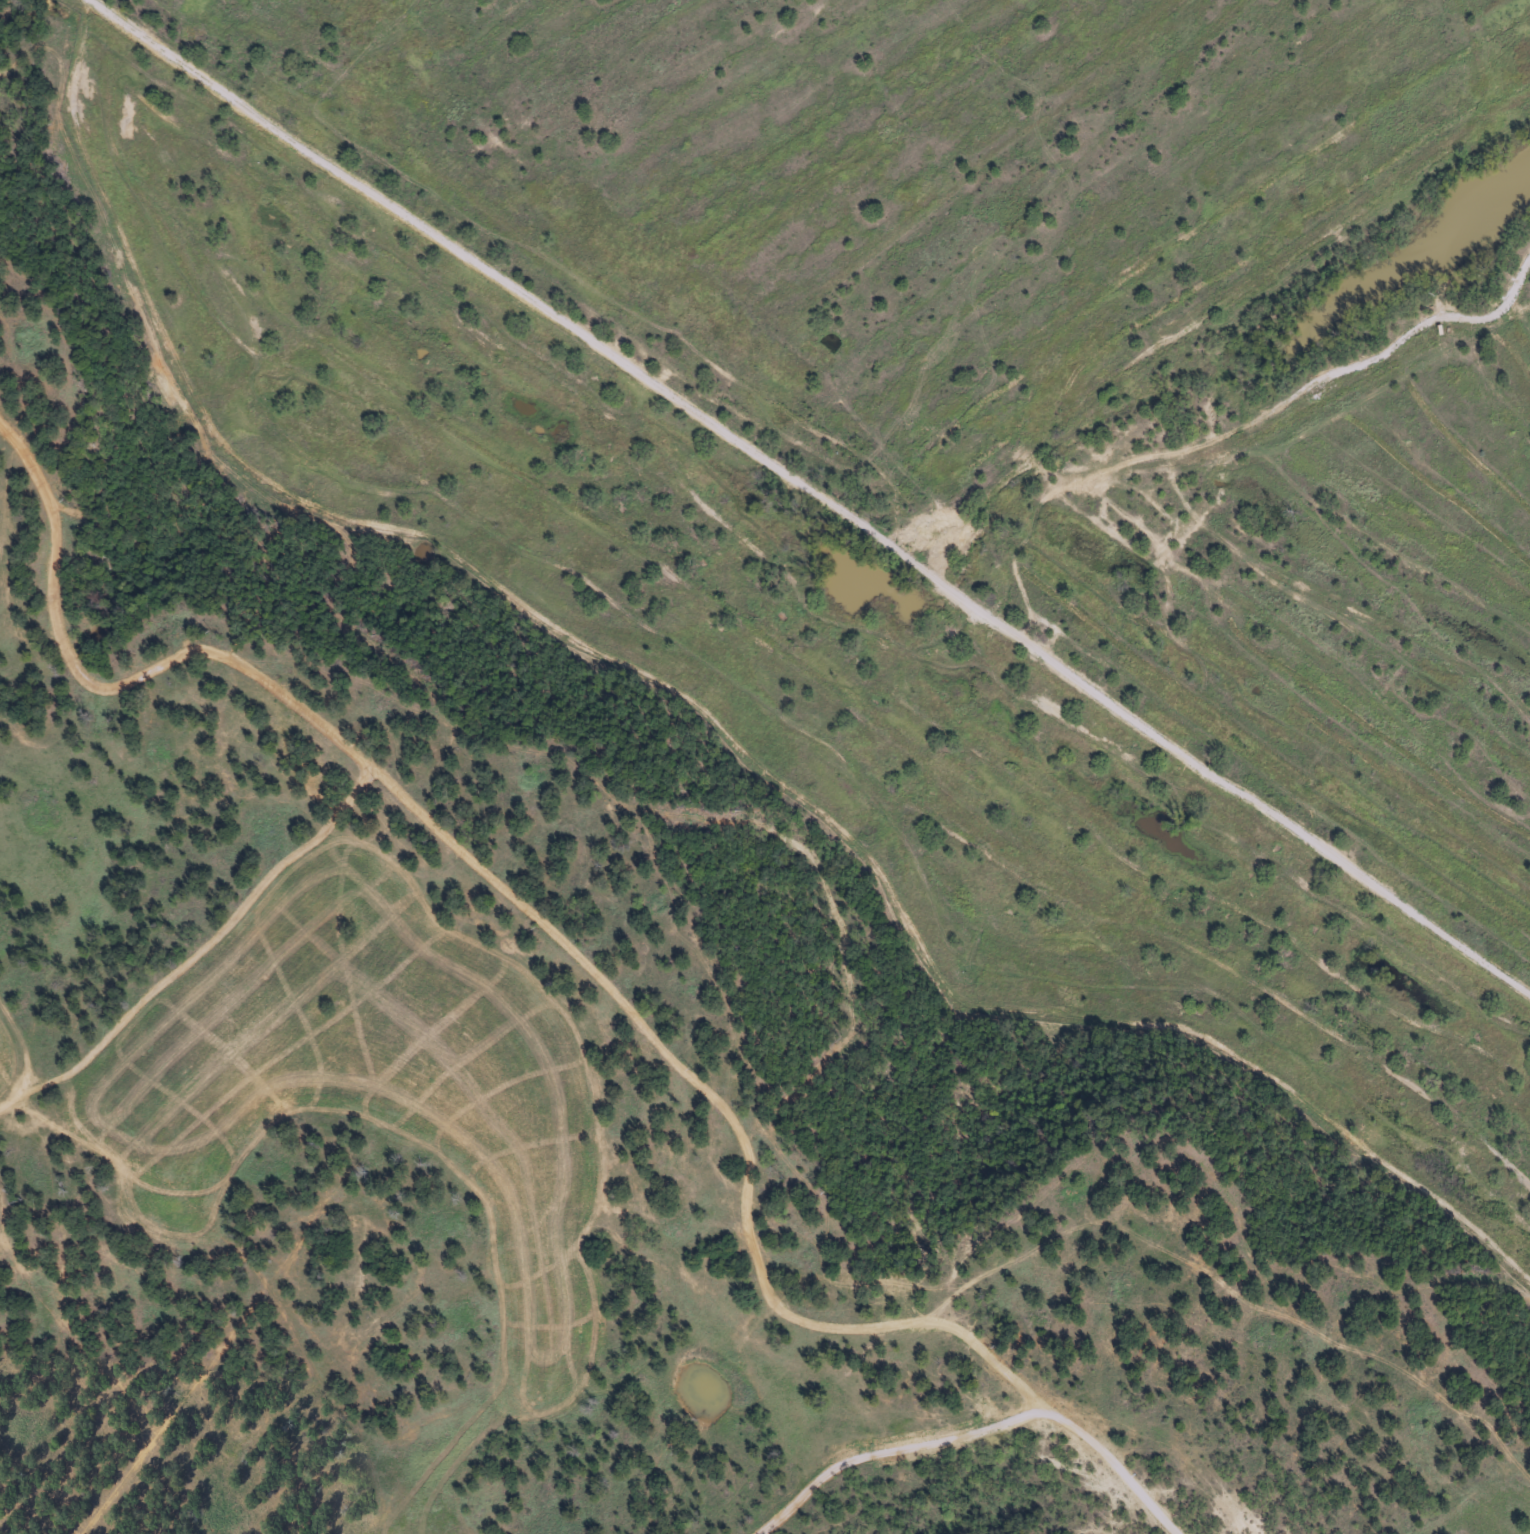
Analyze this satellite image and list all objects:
road: (814, 498)
road: (580, 955)

